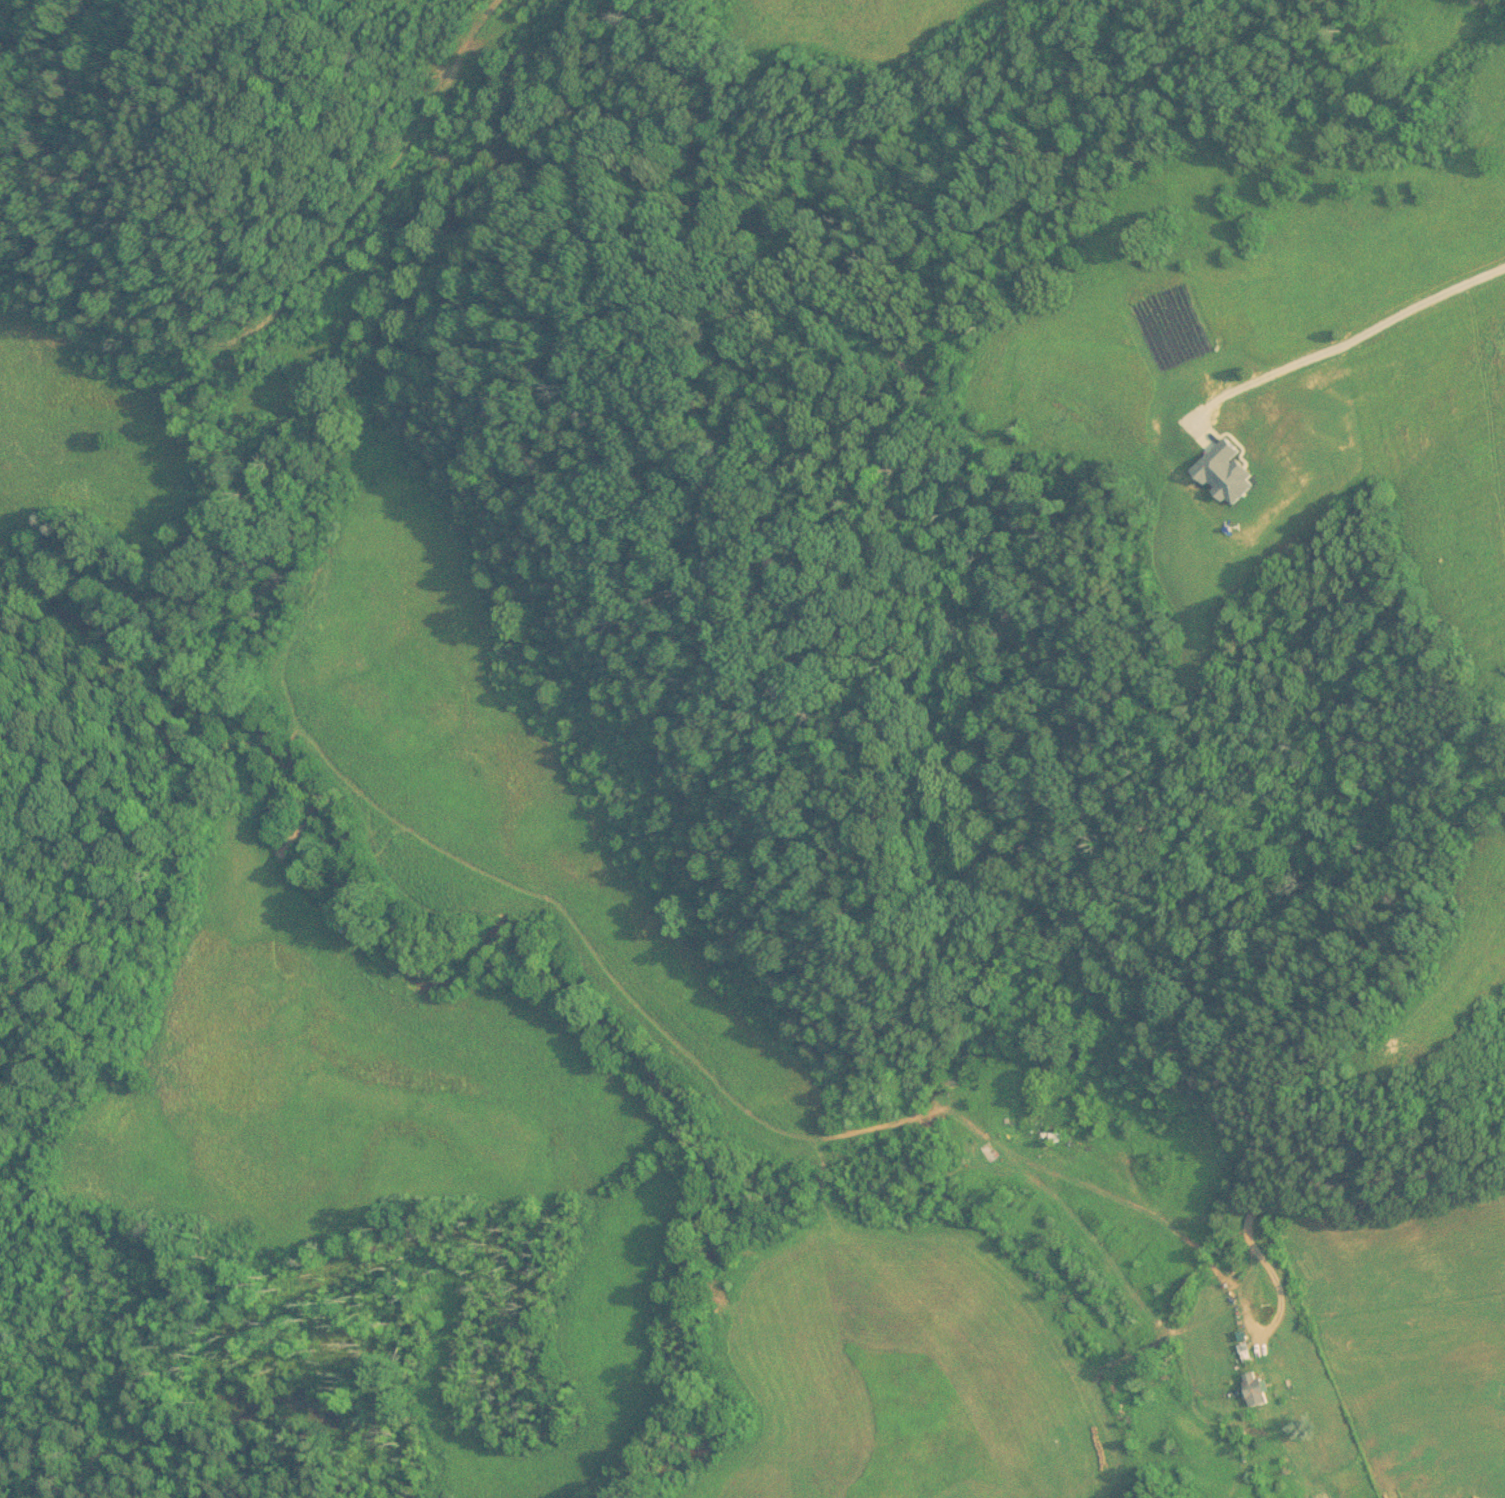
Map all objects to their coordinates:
building: (1048, 1139)
building: (1251, 1389)

